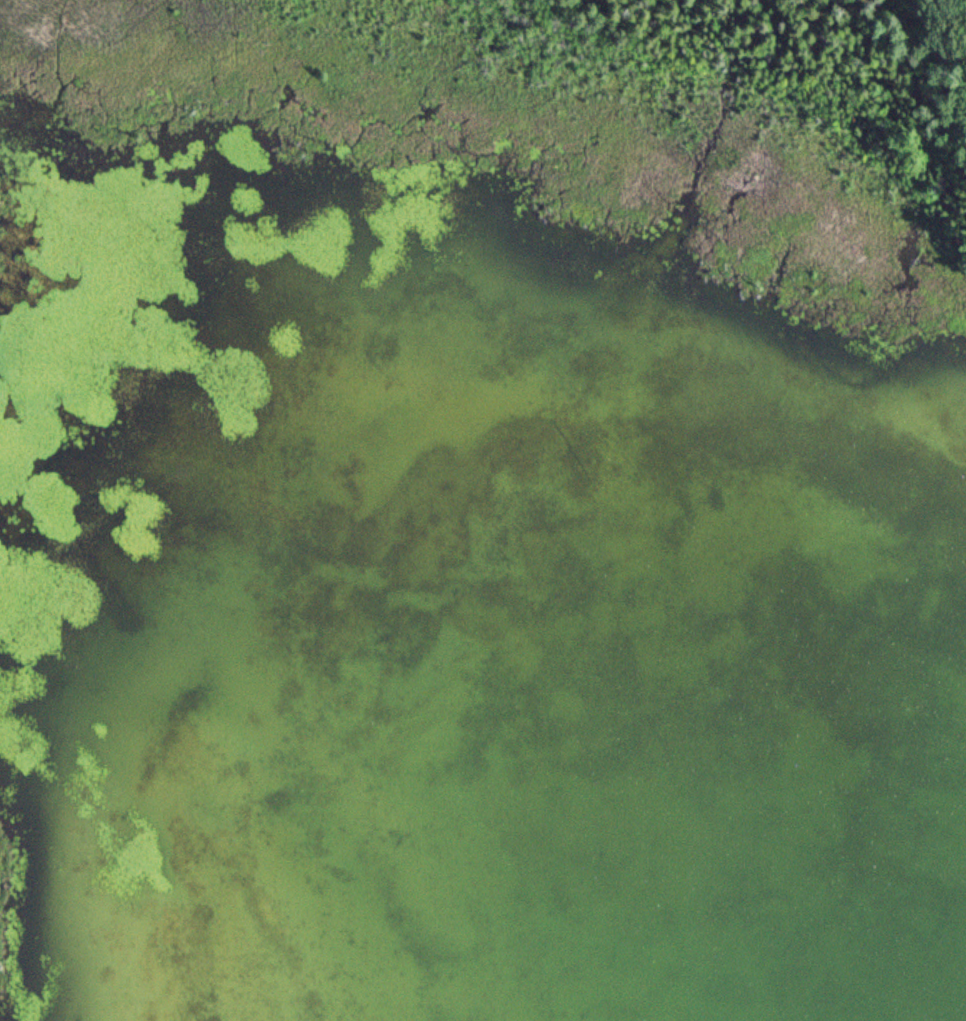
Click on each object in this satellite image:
road: (943, 33)

